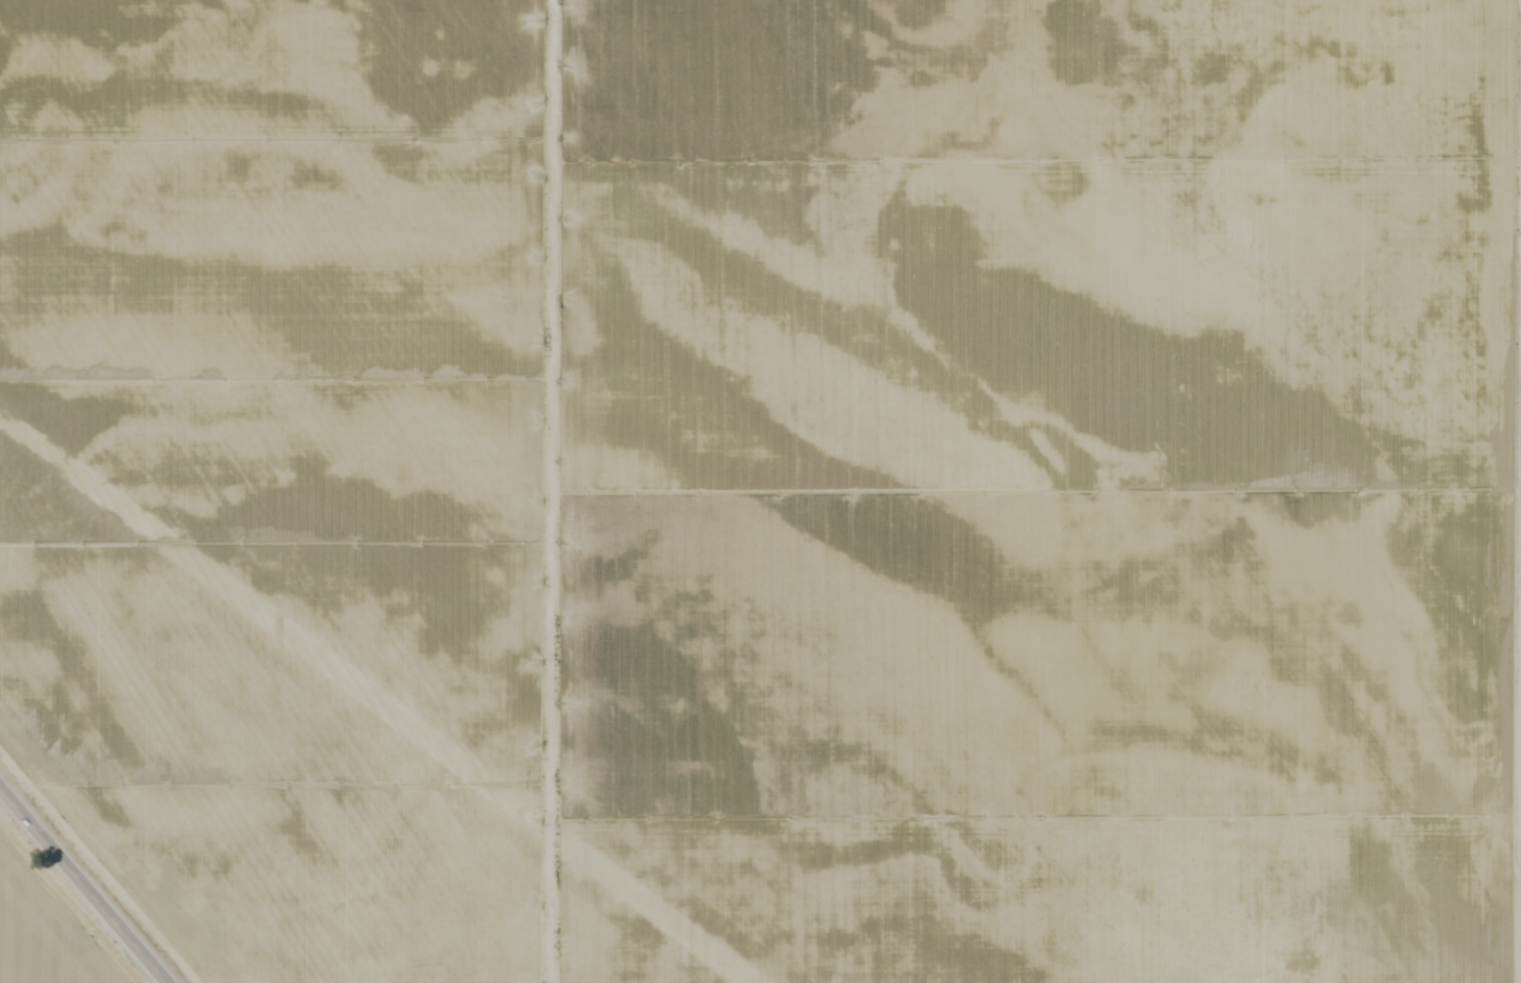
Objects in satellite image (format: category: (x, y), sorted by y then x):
road: (83, 884)

